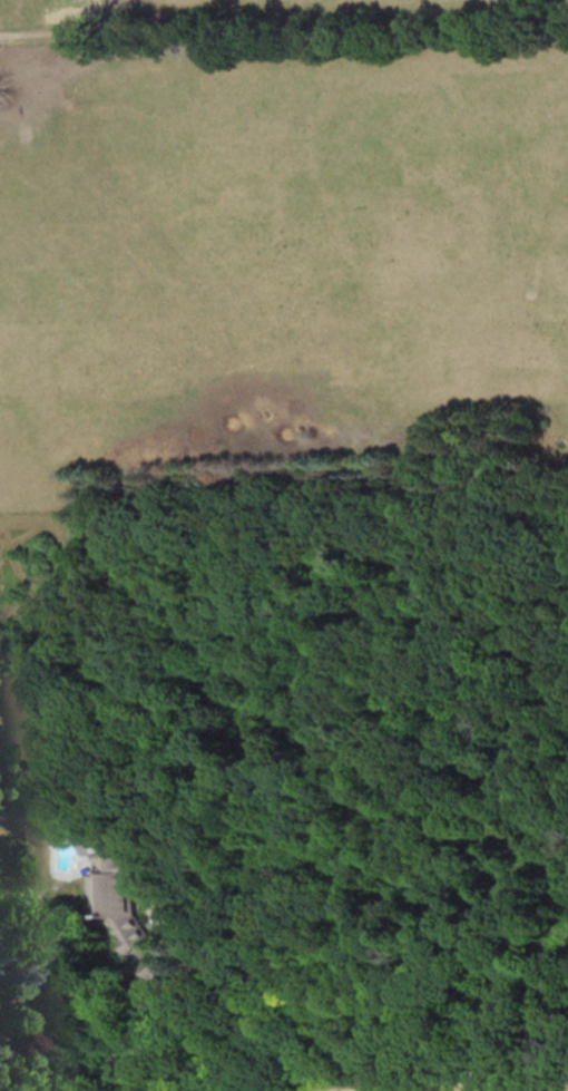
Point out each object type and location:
building: (111, 885)
road: (359, 1014)
road: (441, 1087)
road: (437, 1089)

